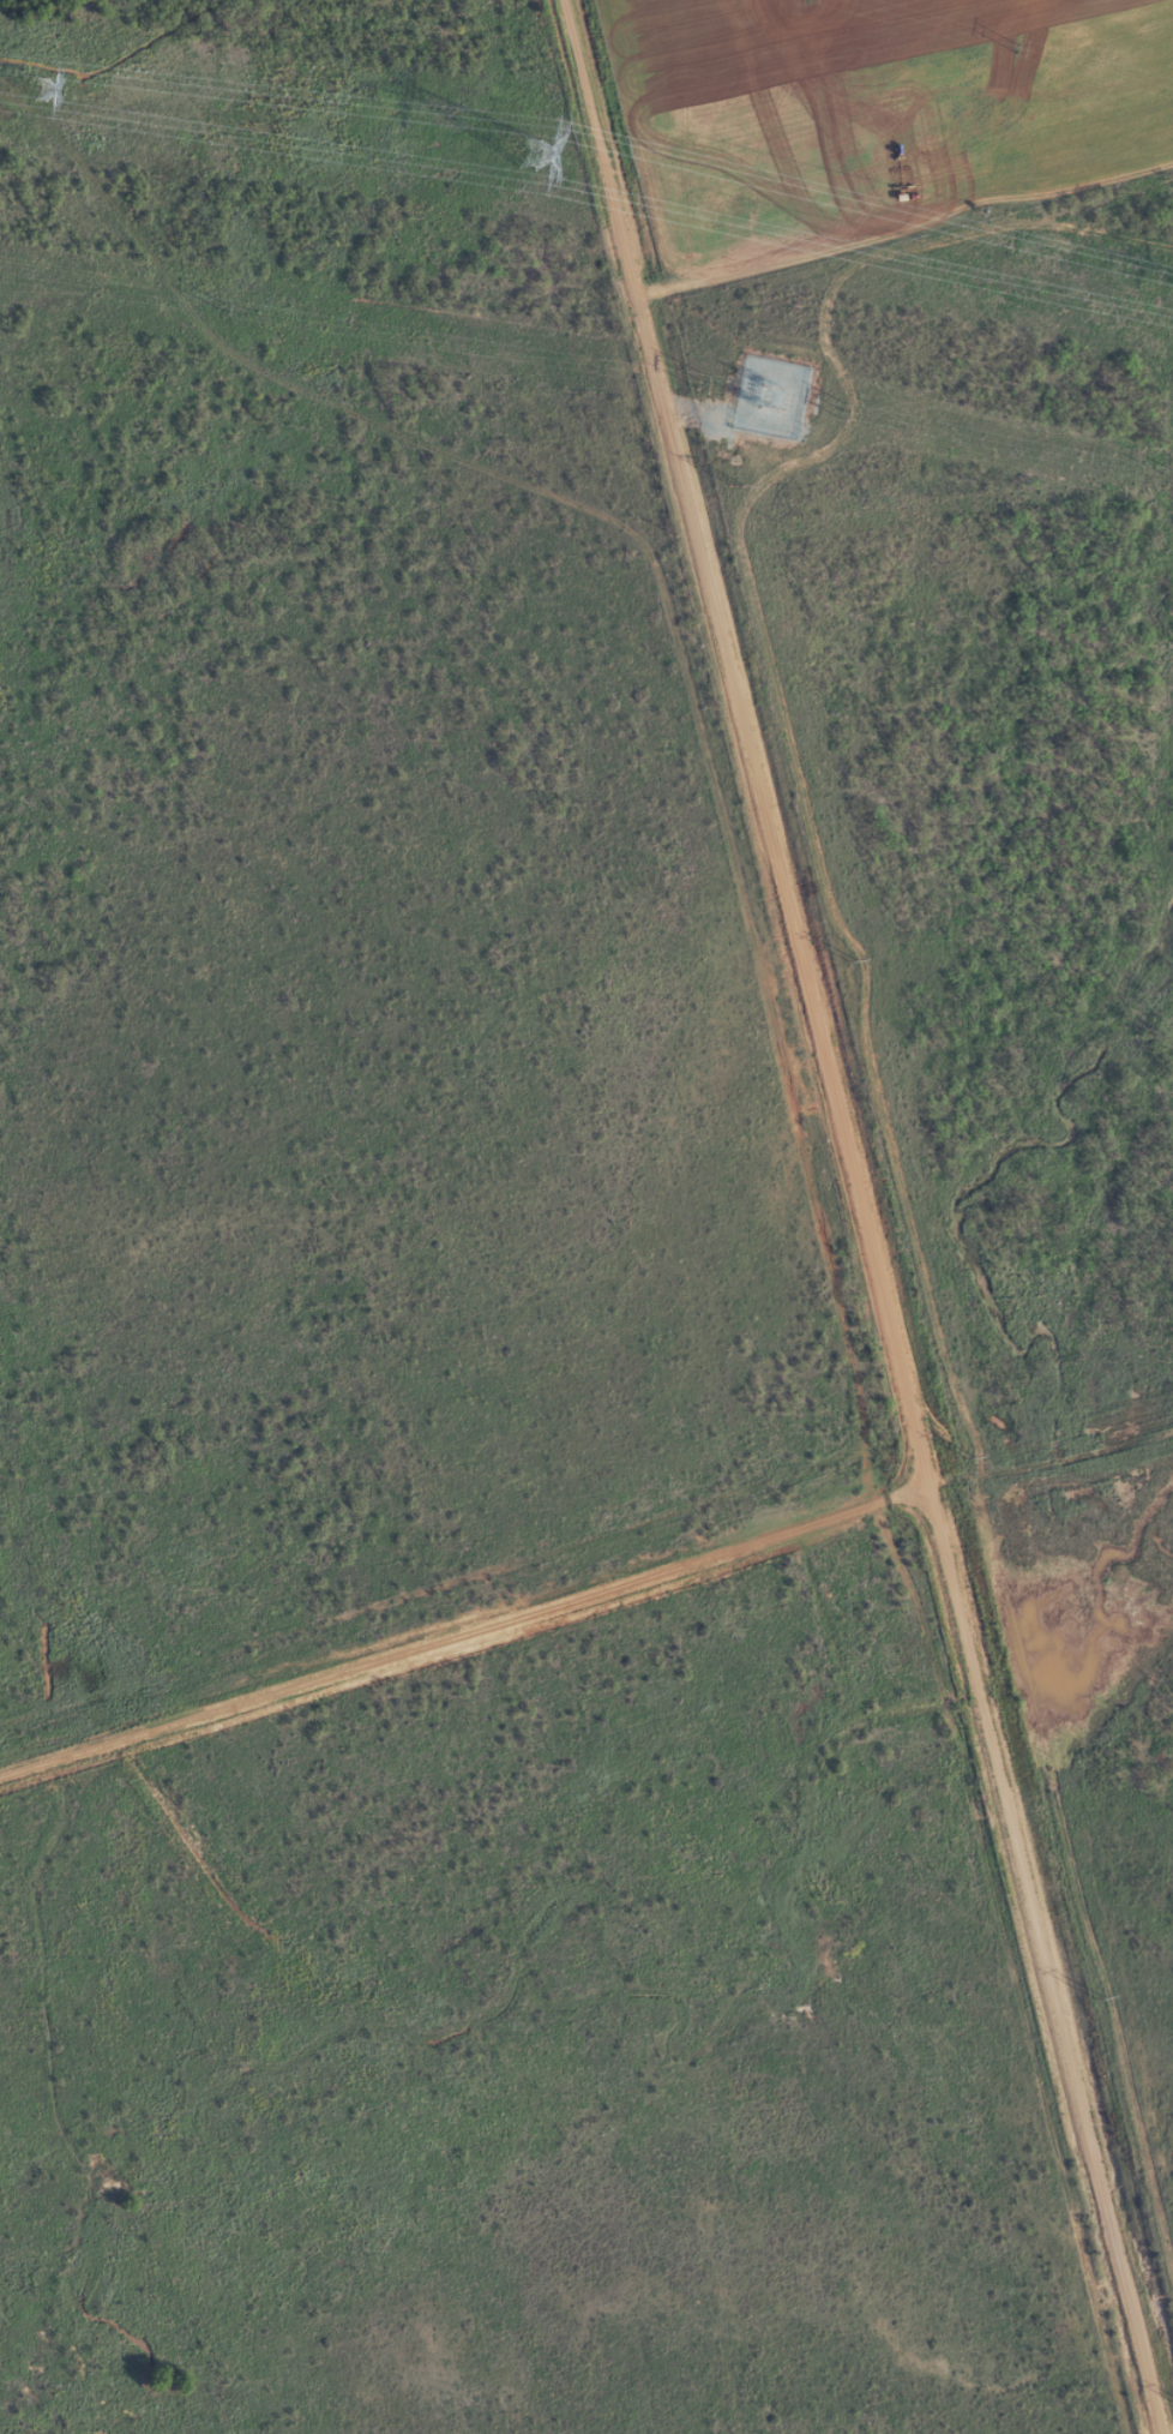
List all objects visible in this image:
power tower: (1016, 49)
power tower: (40, 84)
power tower: (519, 148)
power tower: (216, 305)
power tower: (696, 382)
road: (824, 1217)
road: (584, 1612)

